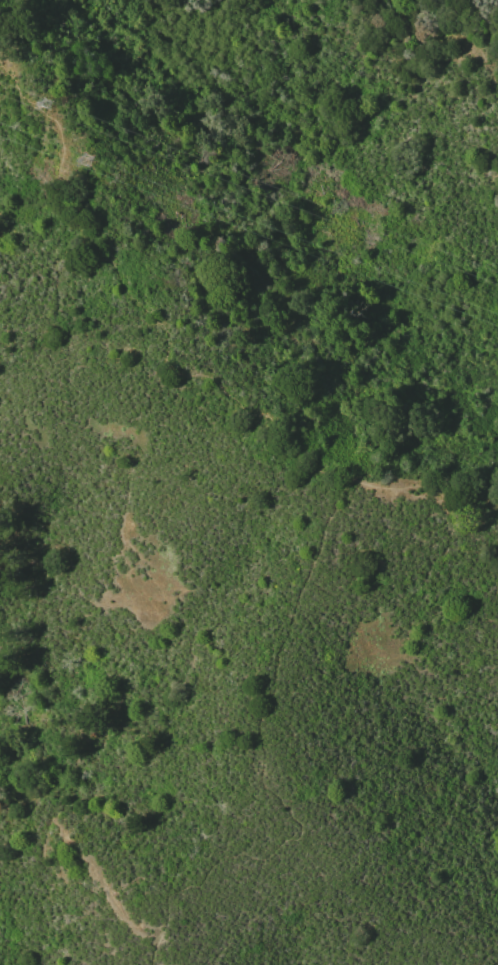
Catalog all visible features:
power tower: (52, 97)
power tower: (93, 154)
road: (168, 361)
road: (271, 762)

